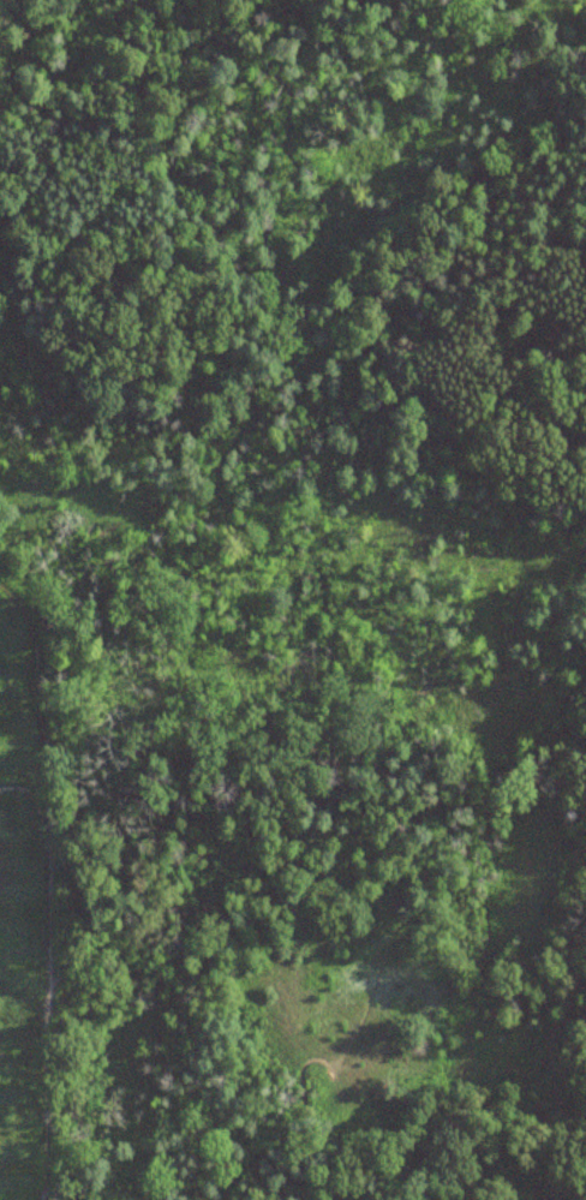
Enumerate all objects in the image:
road: (384, 308)
park: (293, 599)
road: (94, 882)
road: (48, 886)

